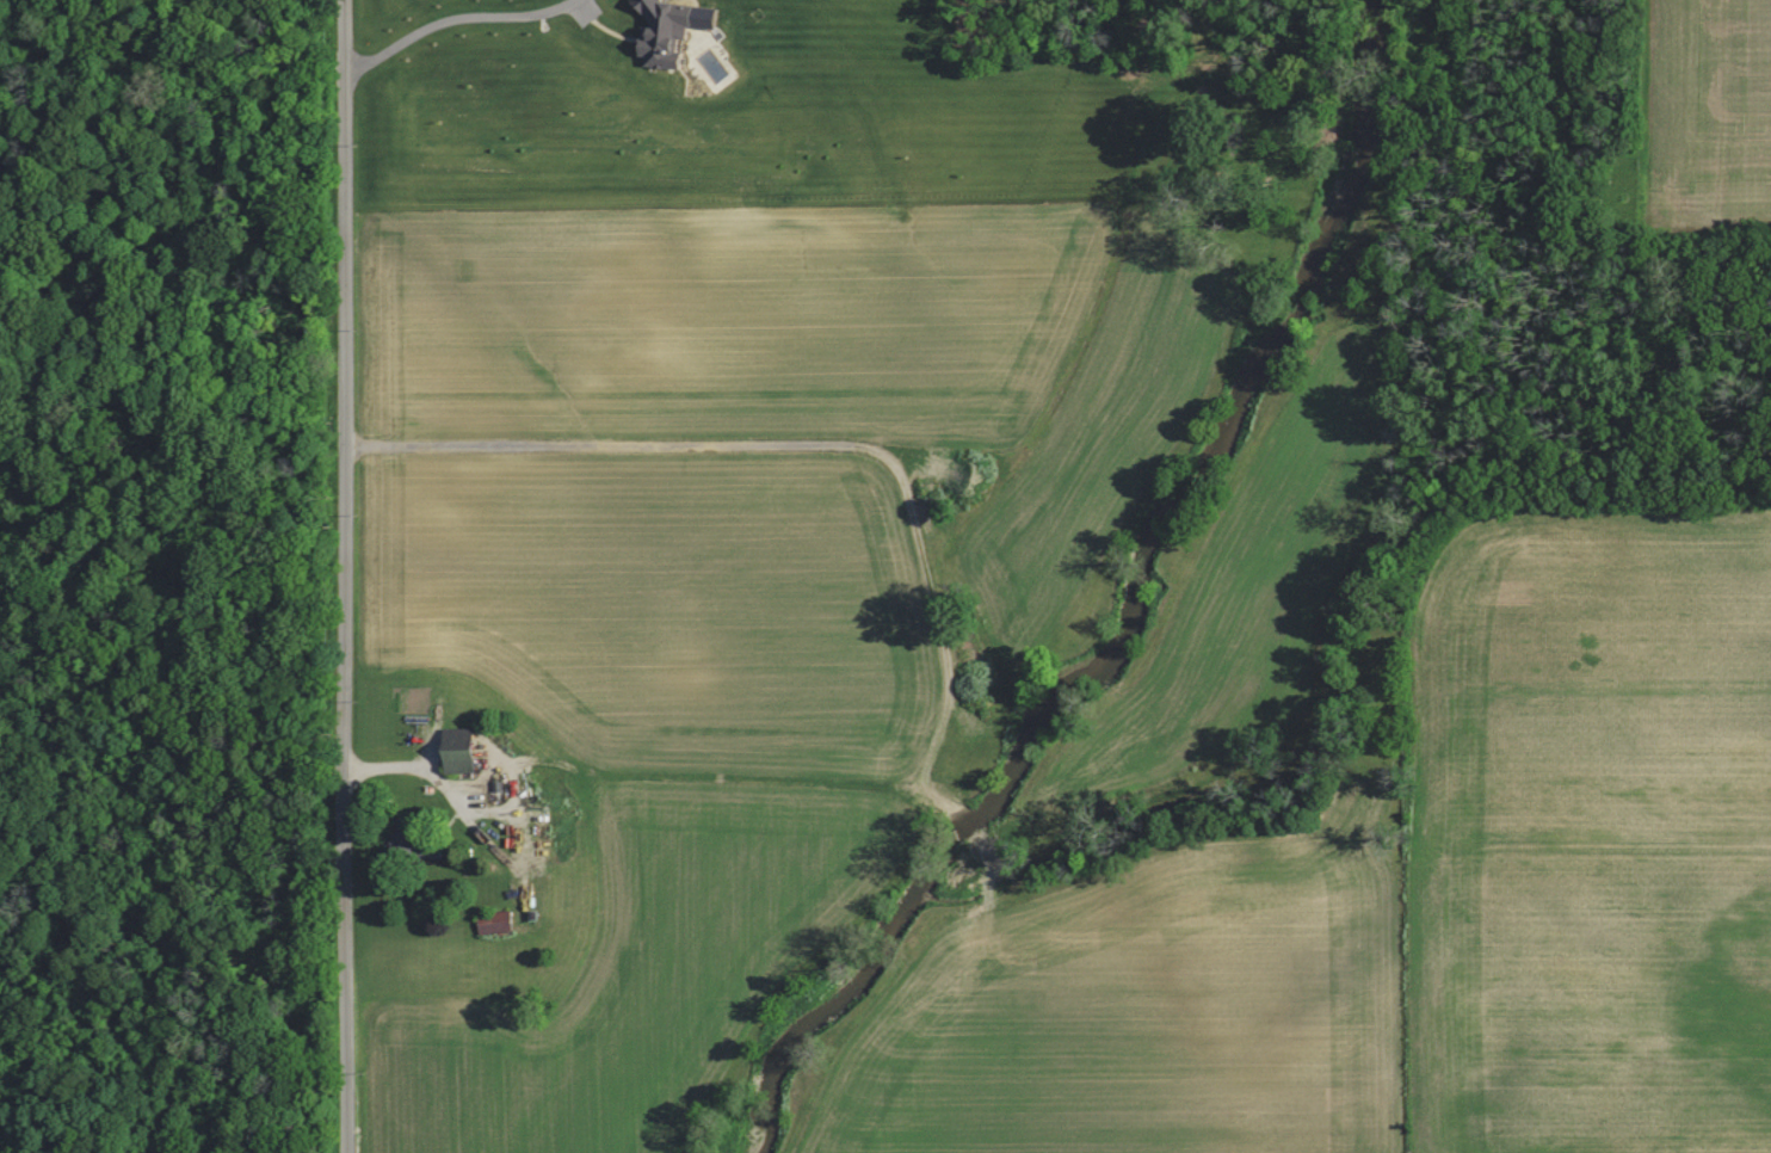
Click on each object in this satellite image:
road: (452, 16)
building: (665, 26)
road: (605, 440)
road: (344, 575)
building: (455, 750)
road: (450, 791)
building: (494, 921)

